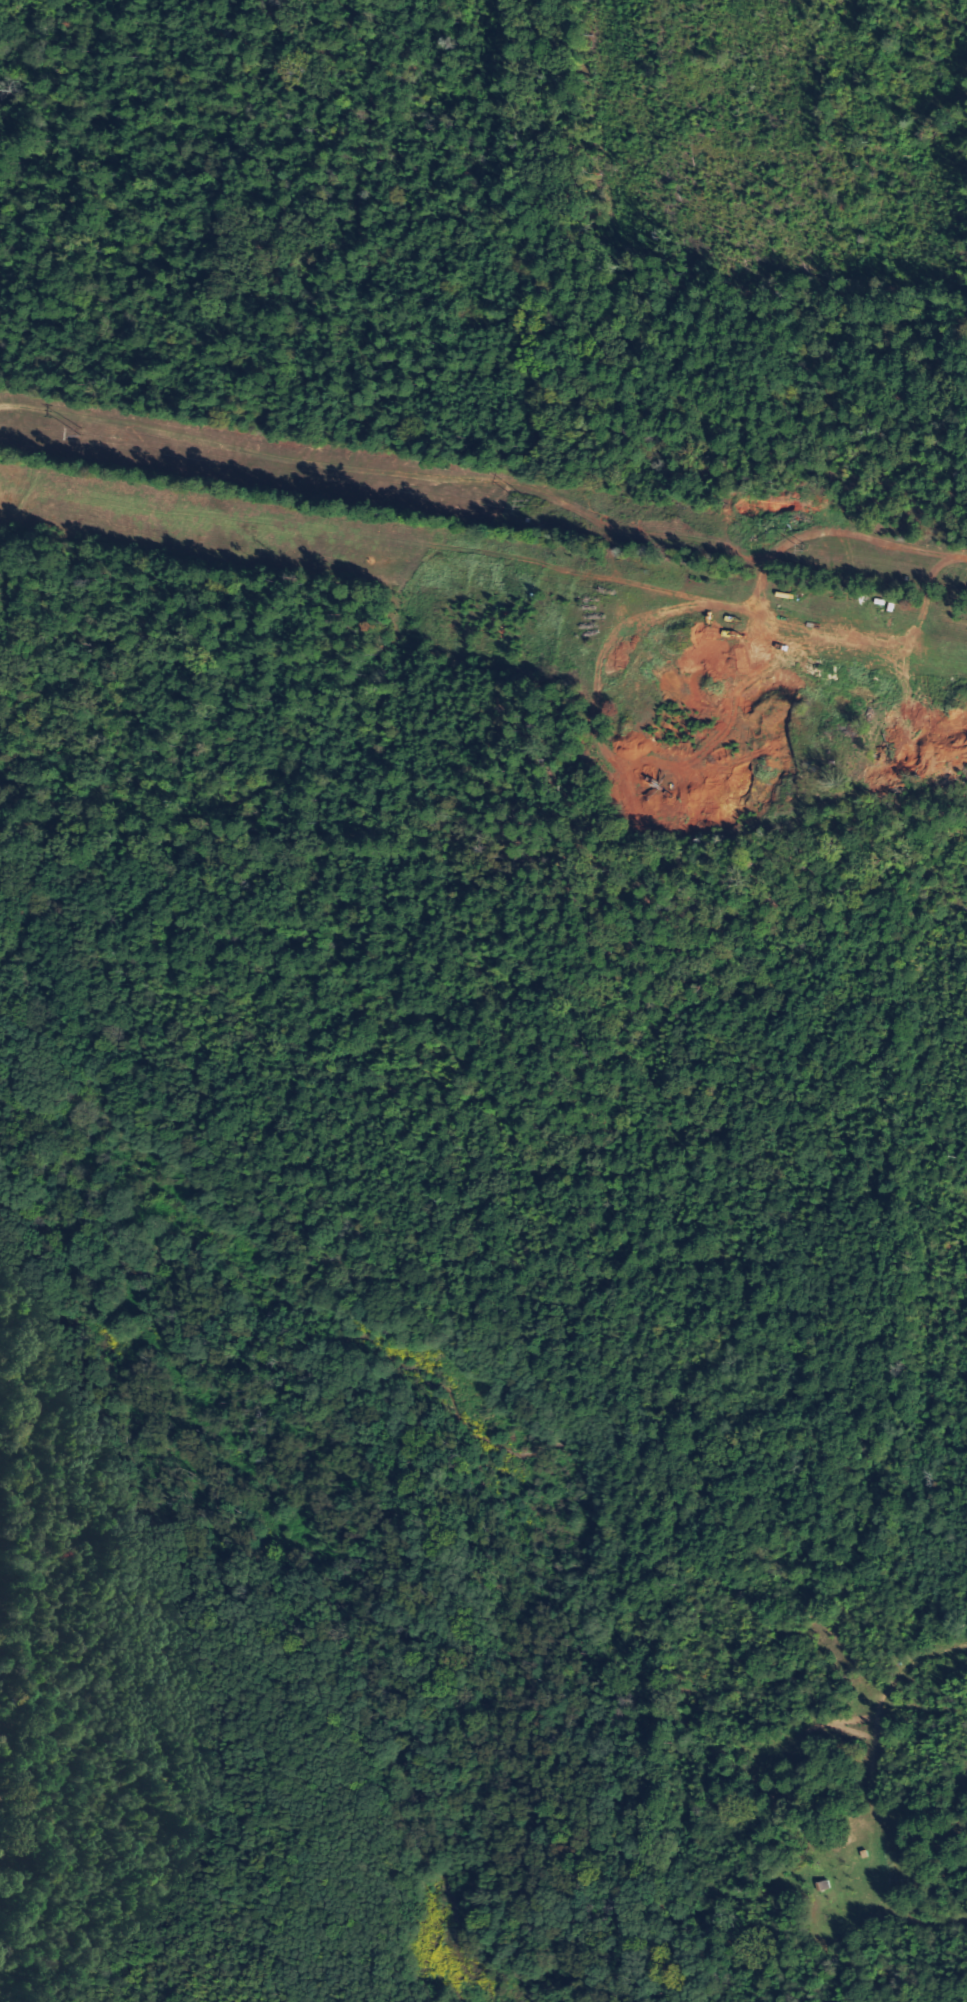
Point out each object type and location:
road: (896, 1938)

